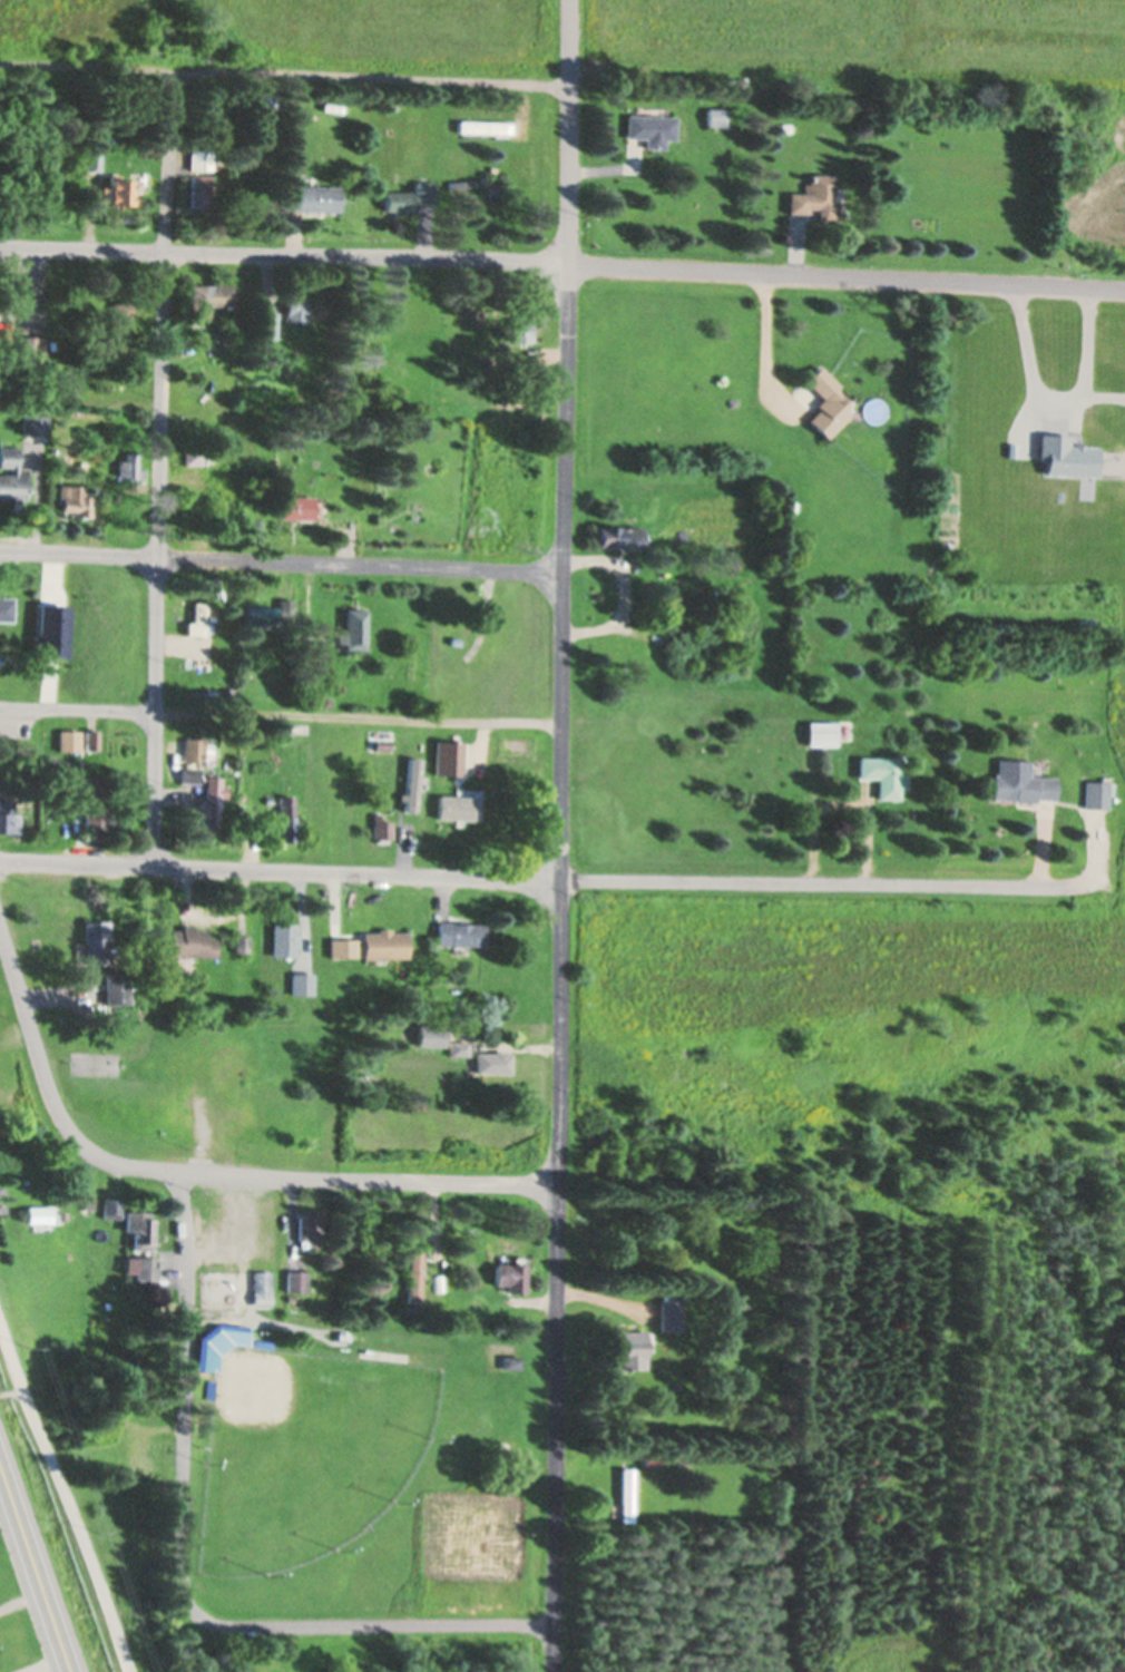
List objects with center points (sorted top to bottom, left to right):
building: (232, 58)
road: (284, 75)
building: (395, 104)
building: (716, 115)
building: (263, 117)
building: (485, 125)
building: (652, 126)
building: (788, 126)
building: (94, 155)
building: (202, 156)
building: (461, 182)
building: (492, 188)
building: (118, 189)
building: (202, 189)
building: (411, 195)
building: (316, 196)
building: (816, 196)
road: (282, 255)
road: (844, 281)
building: (208, 296)
building: (297, 309)
building: (123, 310)
building: (466, 313)
building: (360, 322)
building: (268, 323)
building: (6, 327)
building: (520, 330)
building: (227, 334)
building: (116, 340)
building: (31, 344)
building: (826, 400)
building: (36, 427)
building: (315, 429)
building: (1066, 453)
building: (195, 454)
building: (129, 461)
building: (84, 463)
road: (158, 467)
building: (12, 475)
building: (76, 498)
building: (297, 503)
building: (792, 503)
building: (619, 535)
road: (280, 561)
building: (6, 606)
building: (263, 615)
building: (198, 617)
building: (1086, 620)
building: (354, 628)
building: (305, 666)
building: (214, 688)
road: (77, 710)
road: (356, 718)
building: (821, 731)
building: (70, 739)
building: (92, 741)
building: (196, 747)
building: (1, 769)
building: (190, 772)
building: (883, 773)
building: (447, 778)
building: (1021, 780)
building: (411, 783)
building: (1098, 793)
building: (96, 802)
building: (209, 804)
building: (453, 805)
building: (9, 815)
building: (285, 819)
building: (381, 830)
building: (491, 831)
road: (558, 835)
road: (542, 880)
building: (457, 930)
building: (283, 937)
building: (95, 939)
building: (189, 939)
building: (239, 941)
building: (383, 941)
building: (342, 947)
building: (300, 981)
building: (117, 986)
building: (457, 1046)
building: (491, 1059)
road: (202, 1175)
building: (87, 1201)
building: (110, 1205)
building: (0, 1206)
building: (36, 1212)
building: (59, 1213)
building: (307, 1225)
building: (412, 1229)
building: (140, 1240)
building: (413, 1274)
building: (509, 1275)
building: (293, 1278)
building: (258, 1285)
building: (477, 1301)
building: (410, 1307)
building: (667, 1307)
building: (341, 1334)
building: (215, 1341)
building: (260, 1341)
building: (629, 1347)
building: (382, 1353)
park: (311, 1360)
building: (509, 1360)
building: (207, 1387)
building: (110, 1426)
building: (503, 1446)
building: (139, 1449)
building: (624, 1493)
road: (65, 1505)
road: (33, 1576)
road: (180, 1577)

